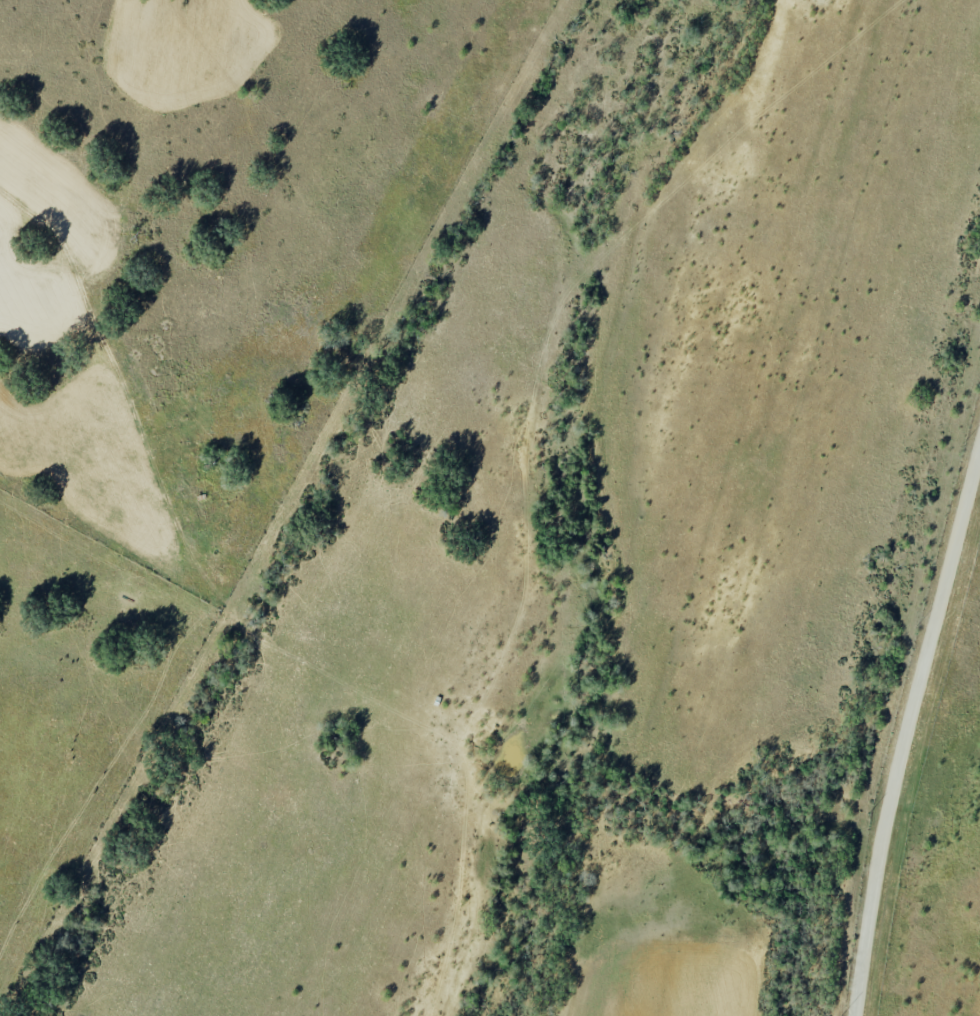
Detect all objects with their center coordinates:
road: (911, 736)

